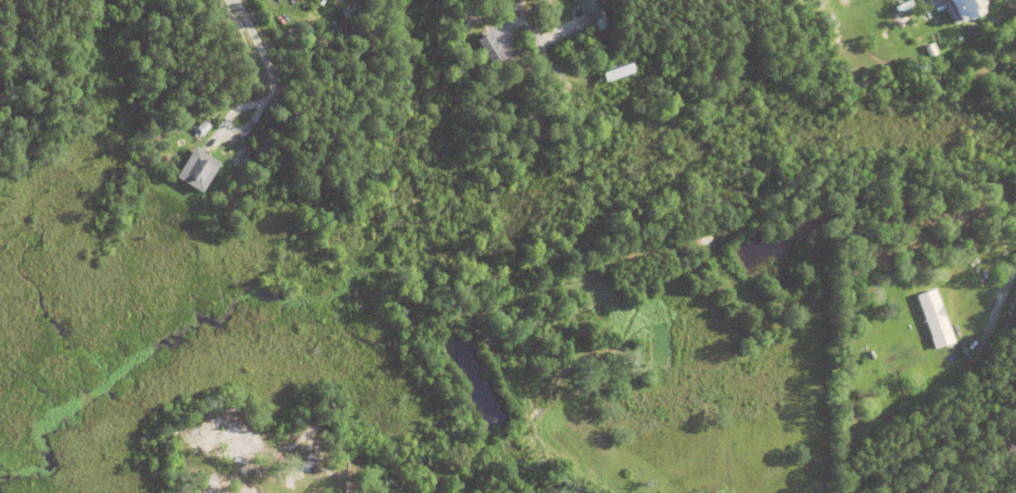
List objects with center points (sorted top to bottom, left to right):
building: (904, 6)
building: (963, 9)
building: (593, 12)
building: (477, 18)
building: (828, 19)
building: (970, 29)
building: (217, 36)
building: (937, 42)
building: (488, 49)
road: (962, 50)
road: (893, 54)
building: (621, 57)
building: (202, 126)
building: (210, 133)
building: (197, 168)
building: (525, 313)
building: (934, 319)
building: (665, 341)
building: (869, 355)
building: (951, 361)

